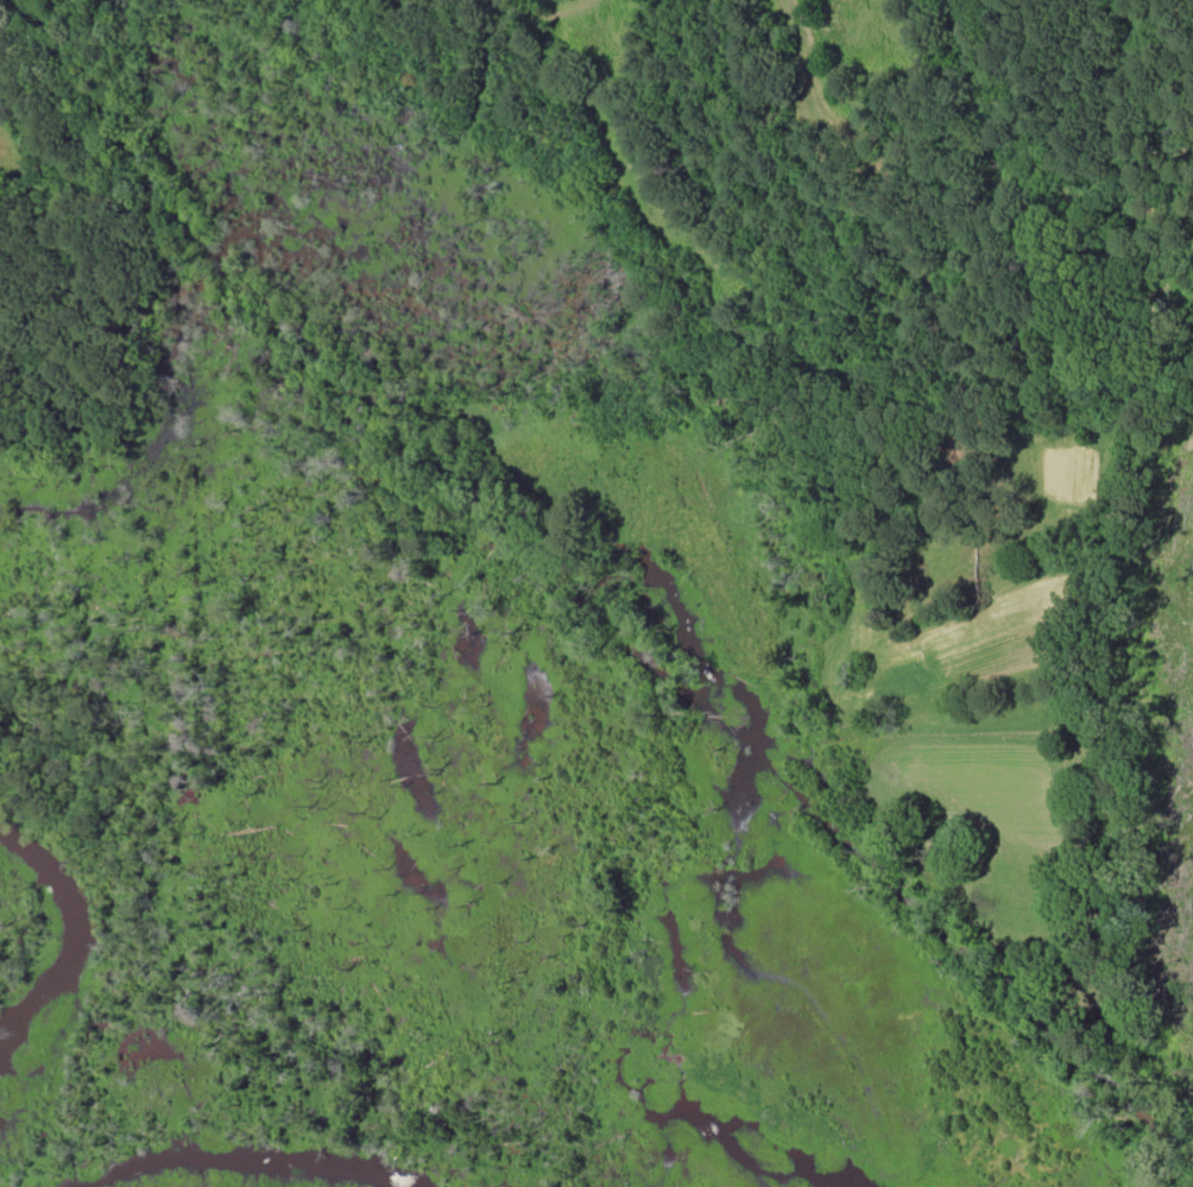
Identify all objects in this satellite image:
road: (1111, 198)

